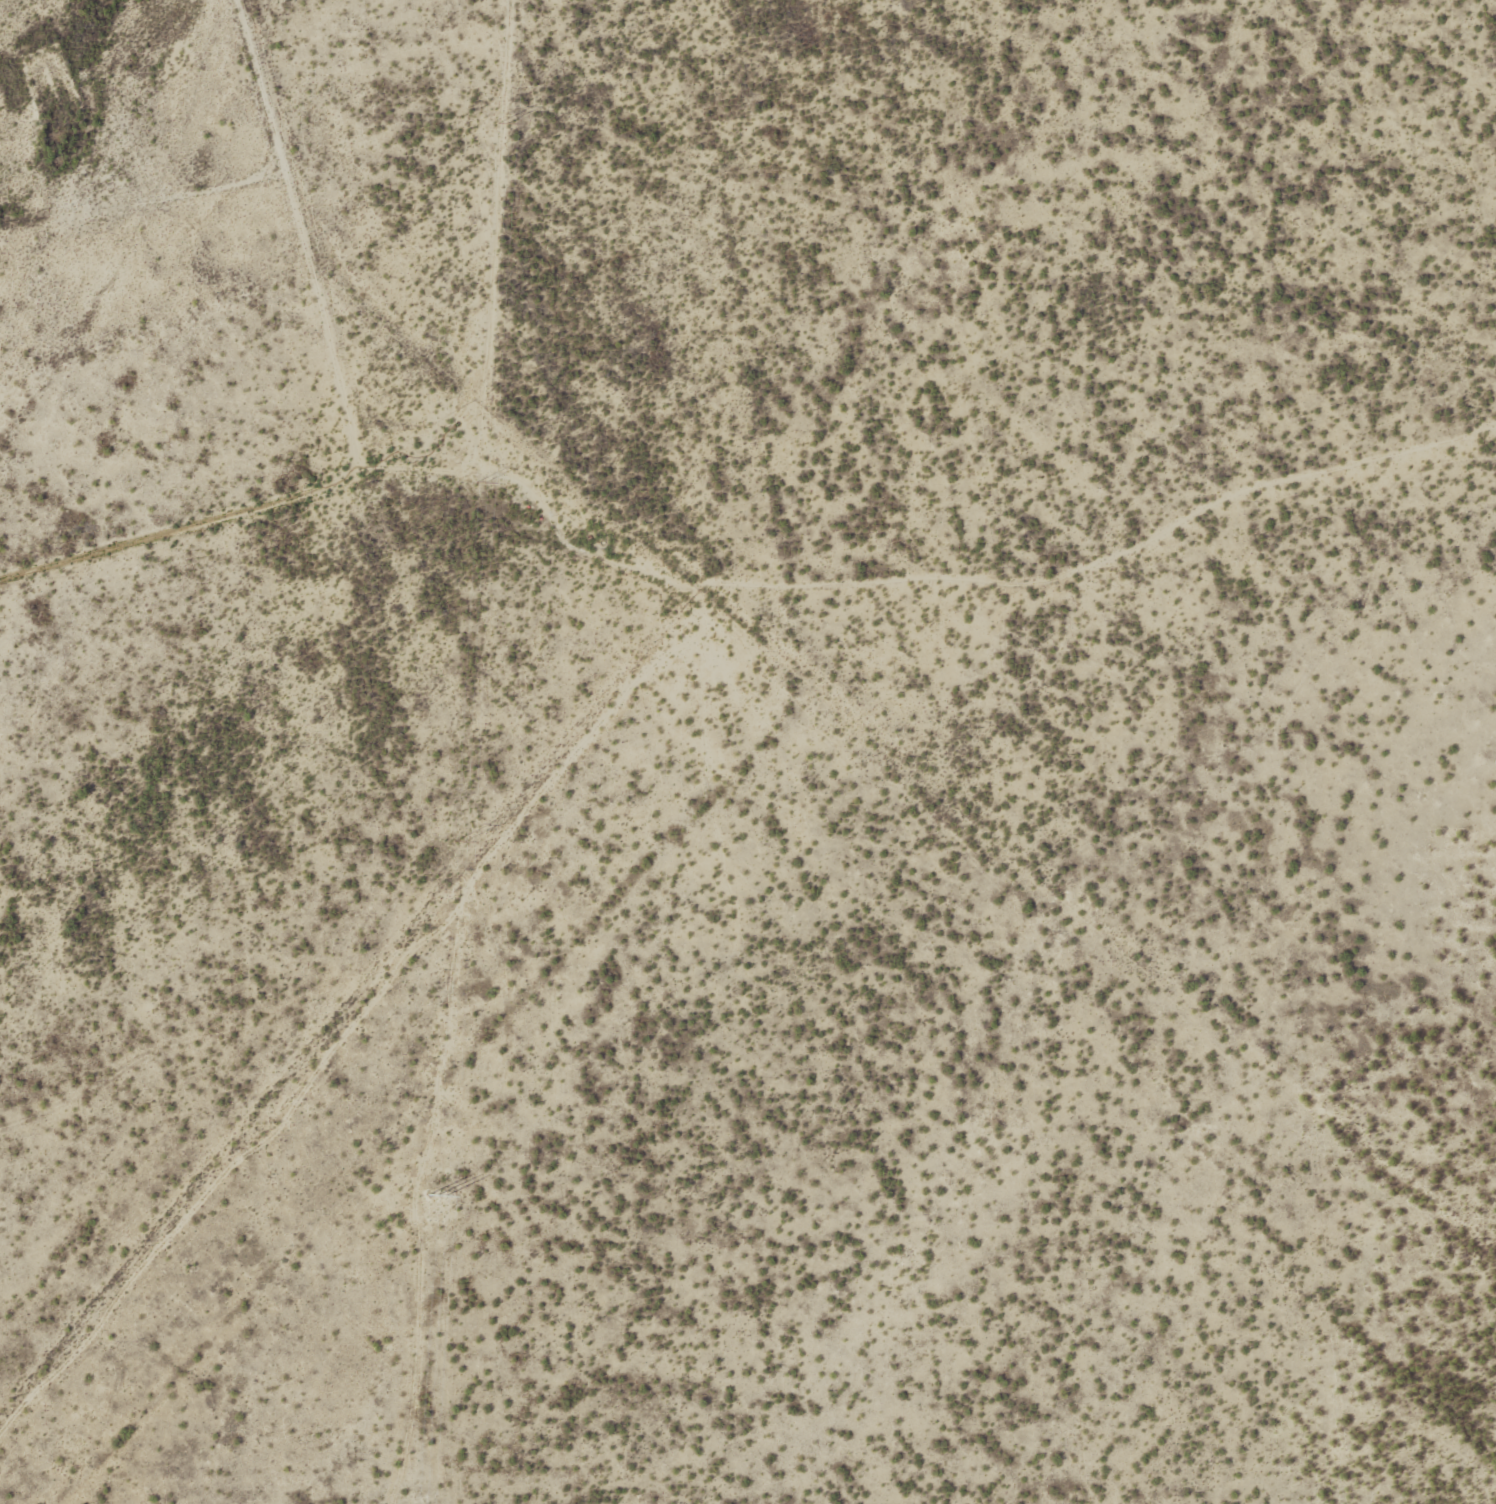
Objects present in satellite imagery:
power tower: (502, 124)
power tower: (480, 483)
power tower: (459, 843)
power tower: (438, 1196)

